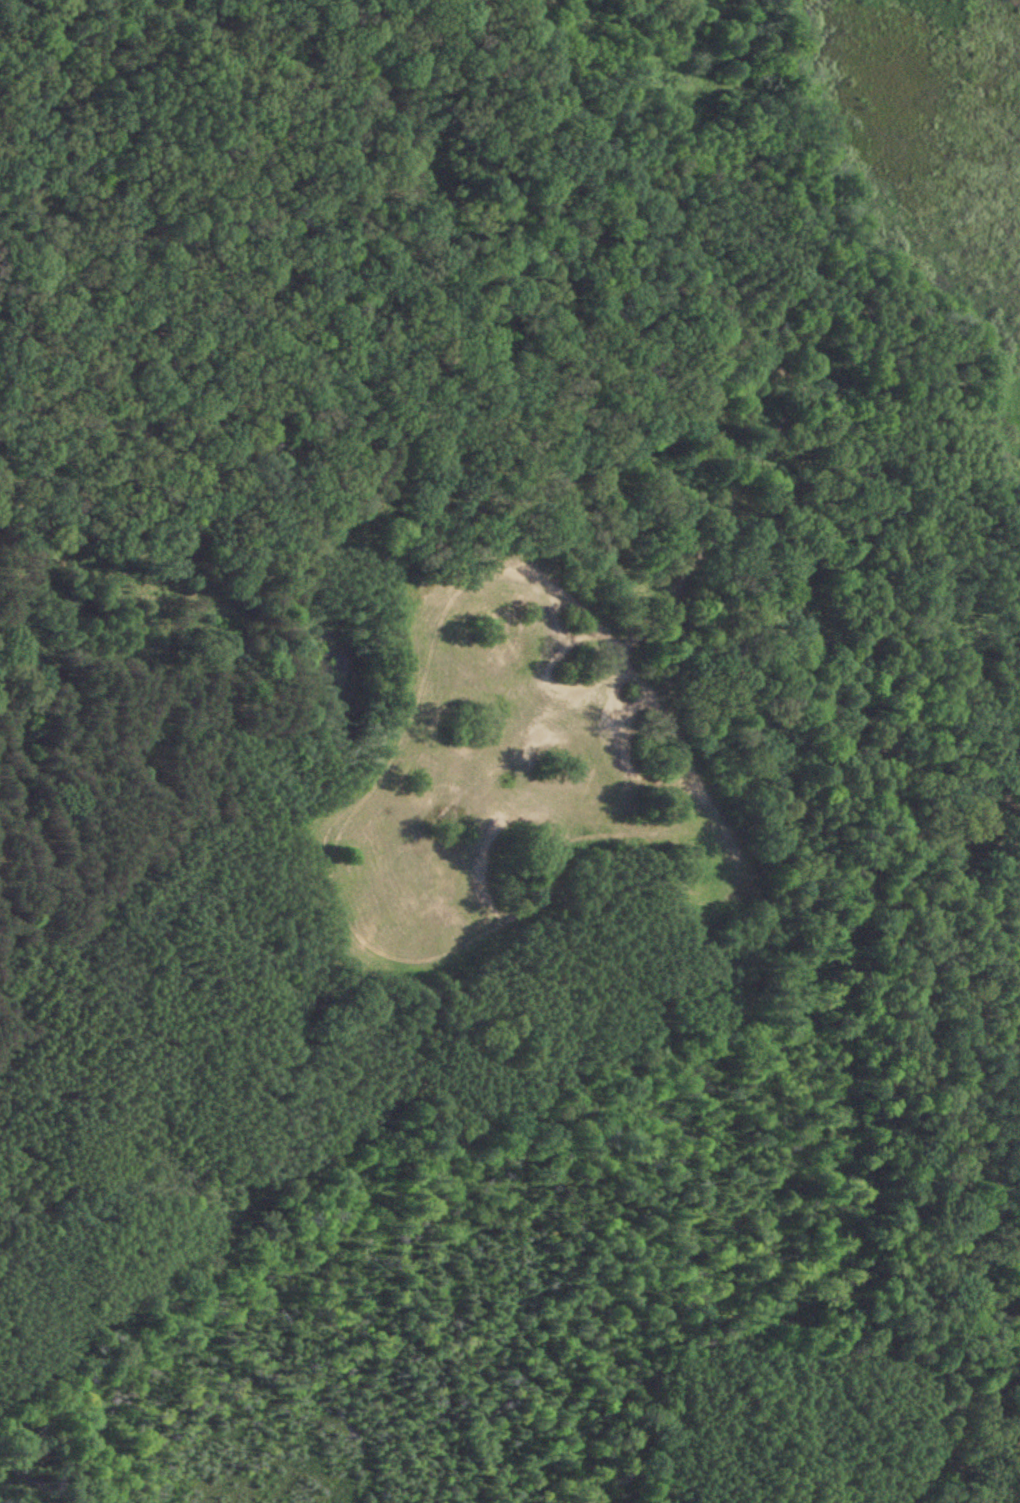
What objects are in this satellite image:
road: (924, 563)
road: (879, 632)
road: (955, 1419)

